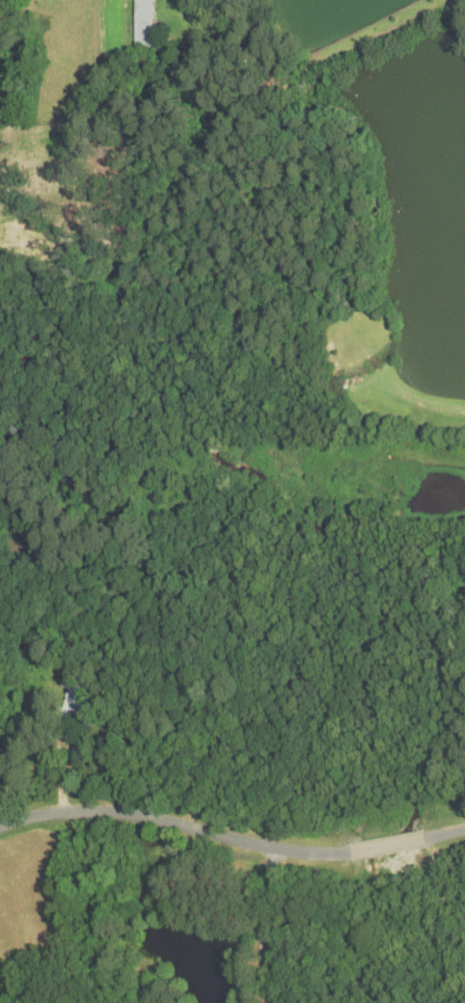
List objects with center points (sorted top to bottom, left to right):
building: (143, 25)
building: (72, 700)
road: (175, 823)
road: (443, 833)
road: (386, 846)
road: (263, 926)

